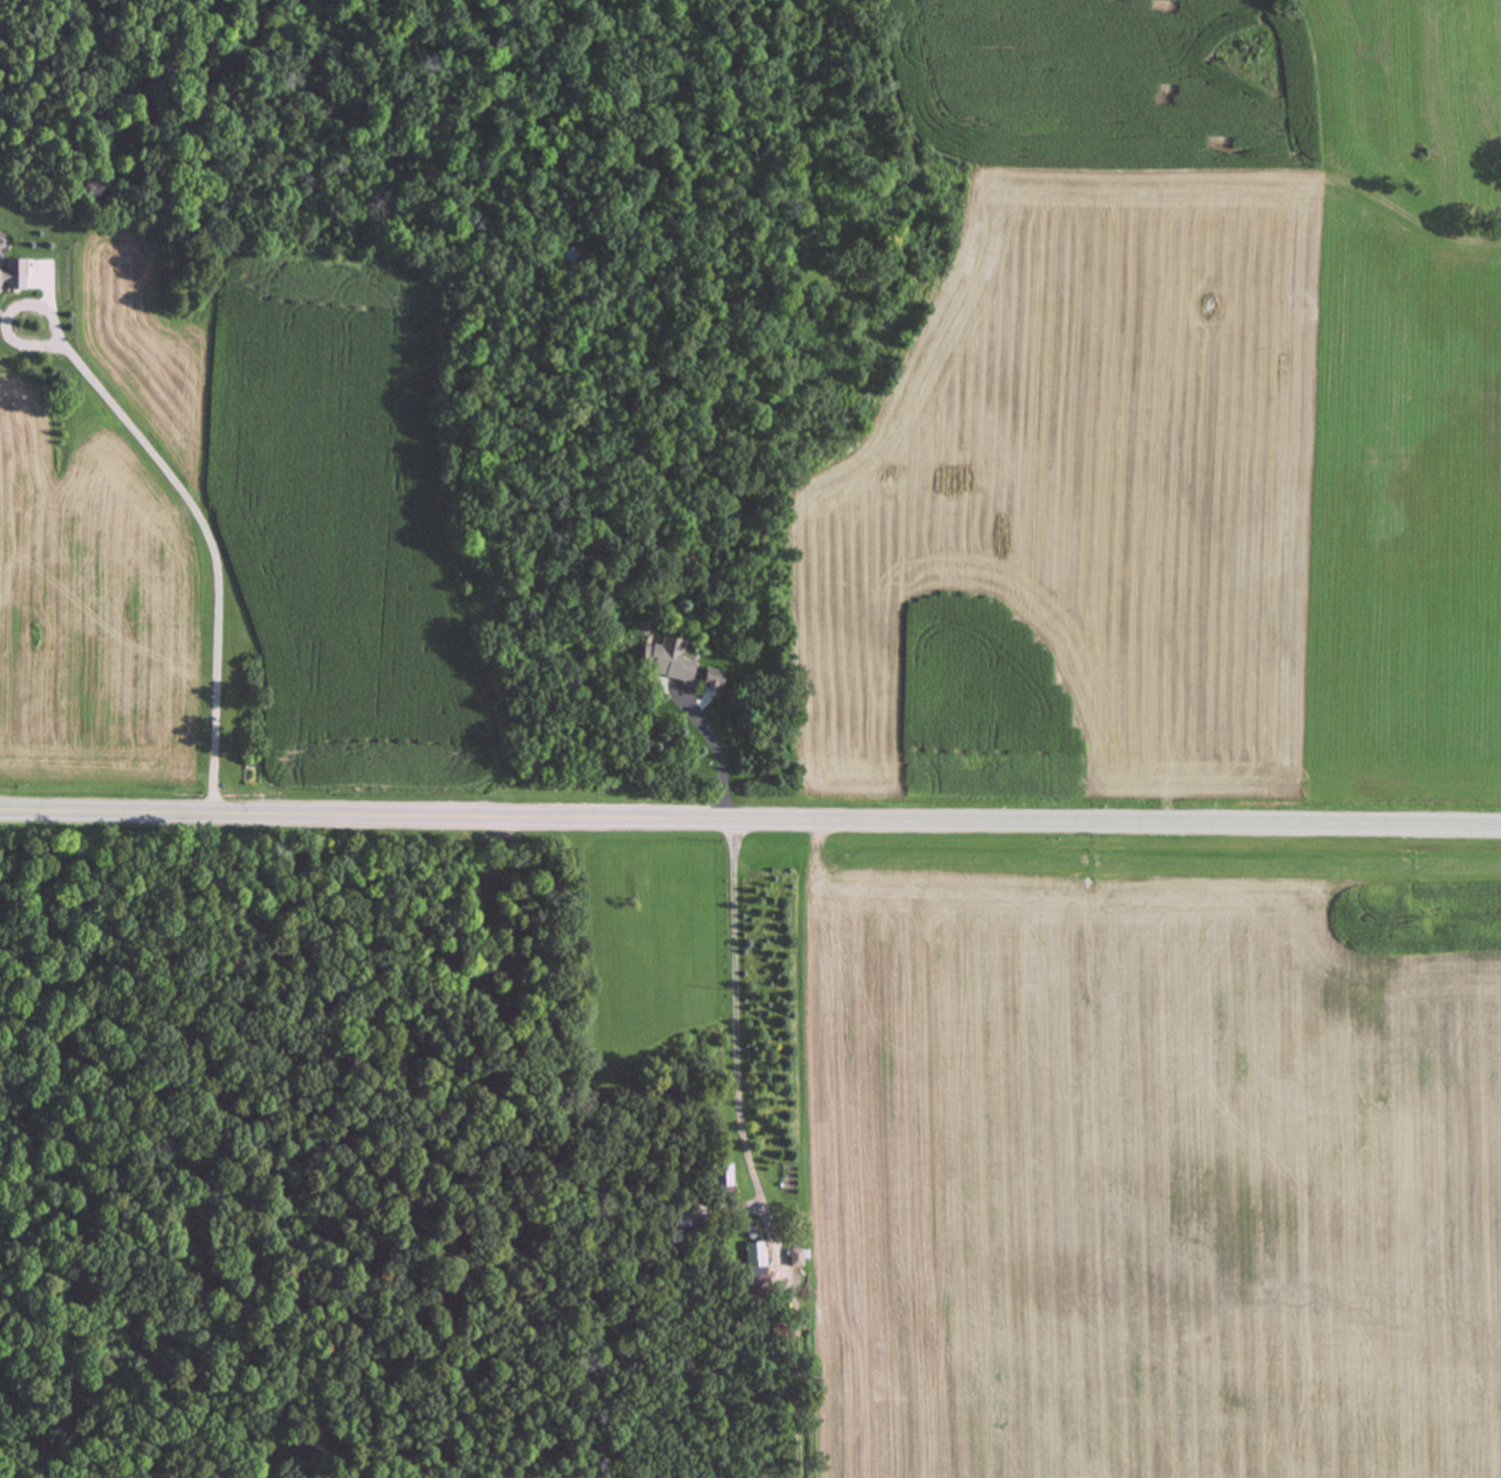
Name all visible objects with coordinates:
building: (570, 255)
building: (12, 276)
road: (209, 531)
building: (663, 661)
building: (710, 680)
road: (719, 751)
road: (750, 817)
road: (737, 1040)
building: (755, 1255)

